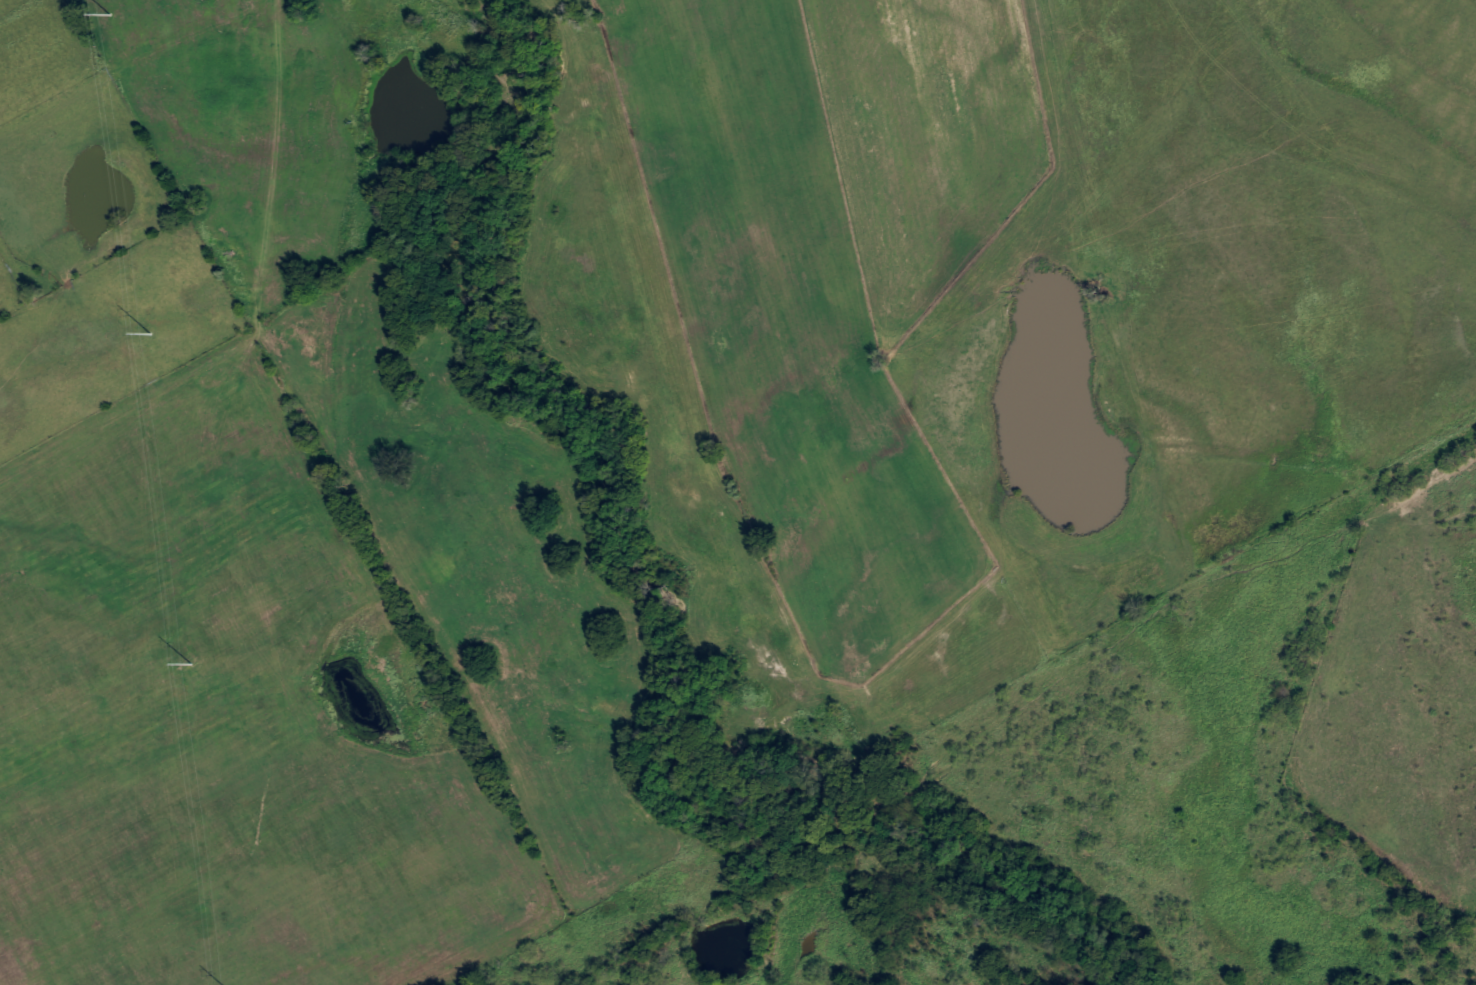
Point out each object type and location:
power tower: (109, 14)
power tower: (149, 332)
power tower: (190, 662)

